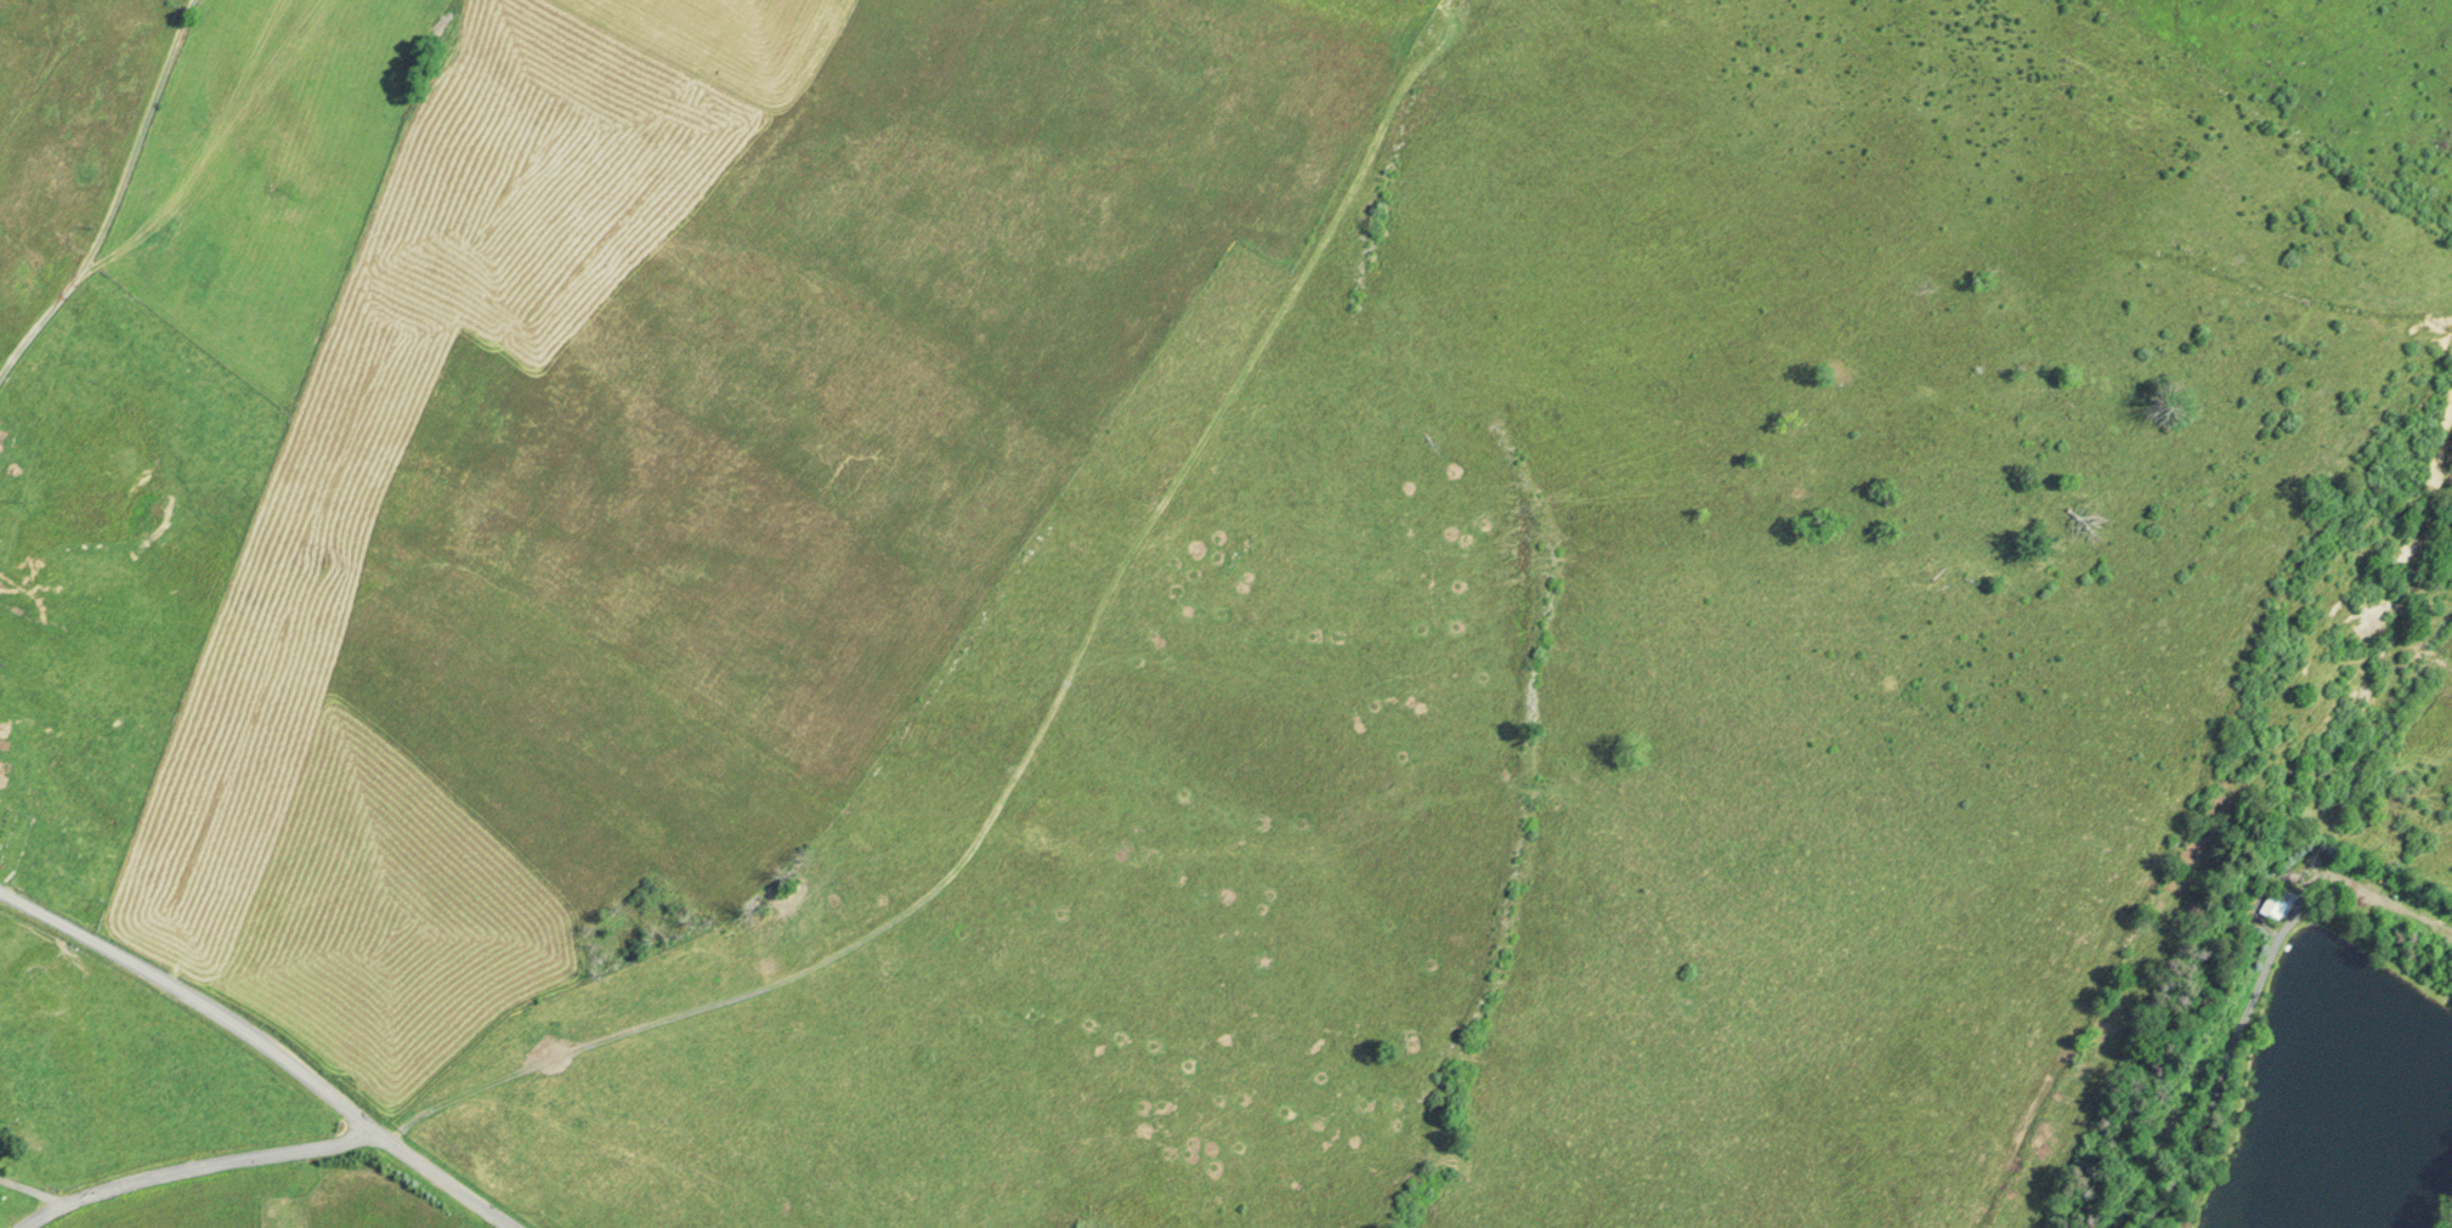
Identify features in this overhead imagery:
road: (111, 189)
building: (2272, 906)
road: (266, 1043)
road: (204, 1178)

